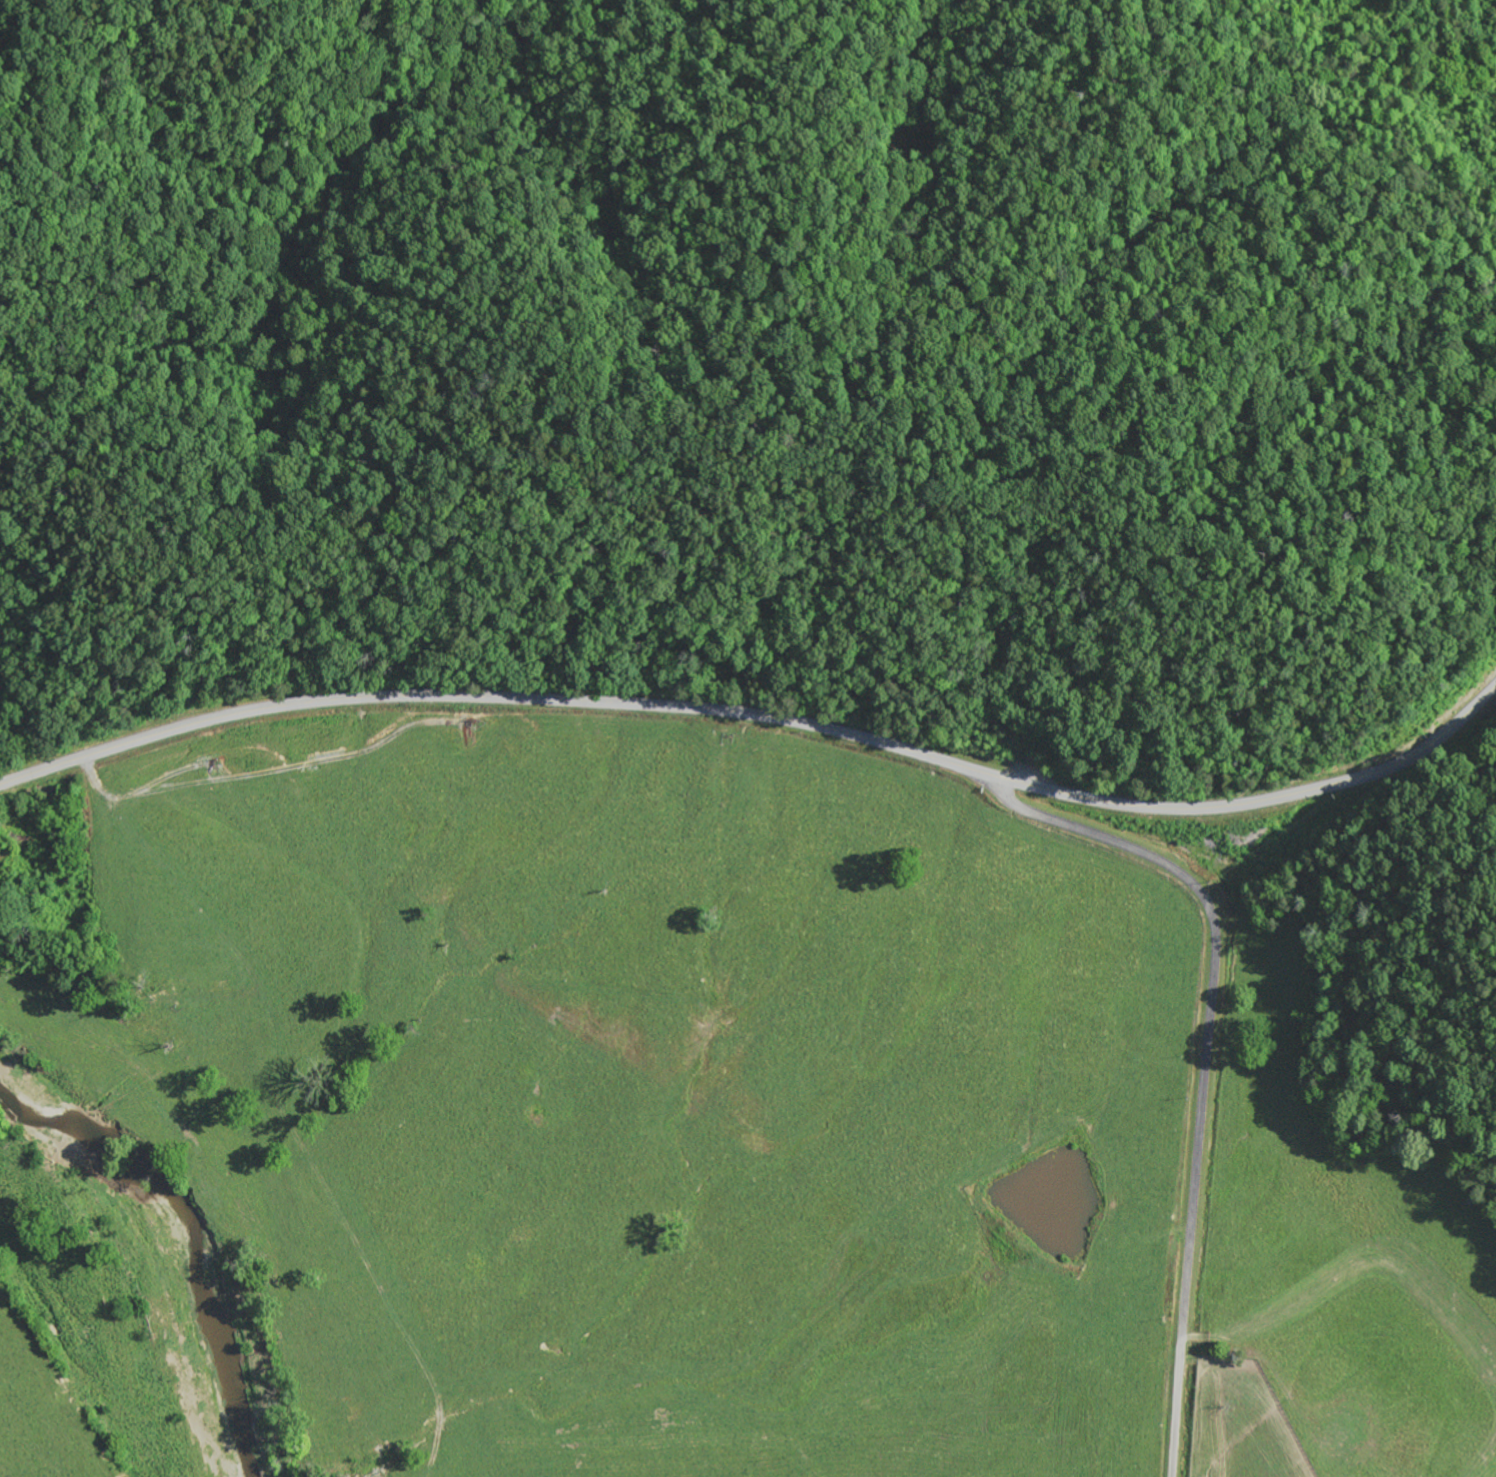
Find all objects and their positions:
road: (763, 718)
road: (1206, 1064)

